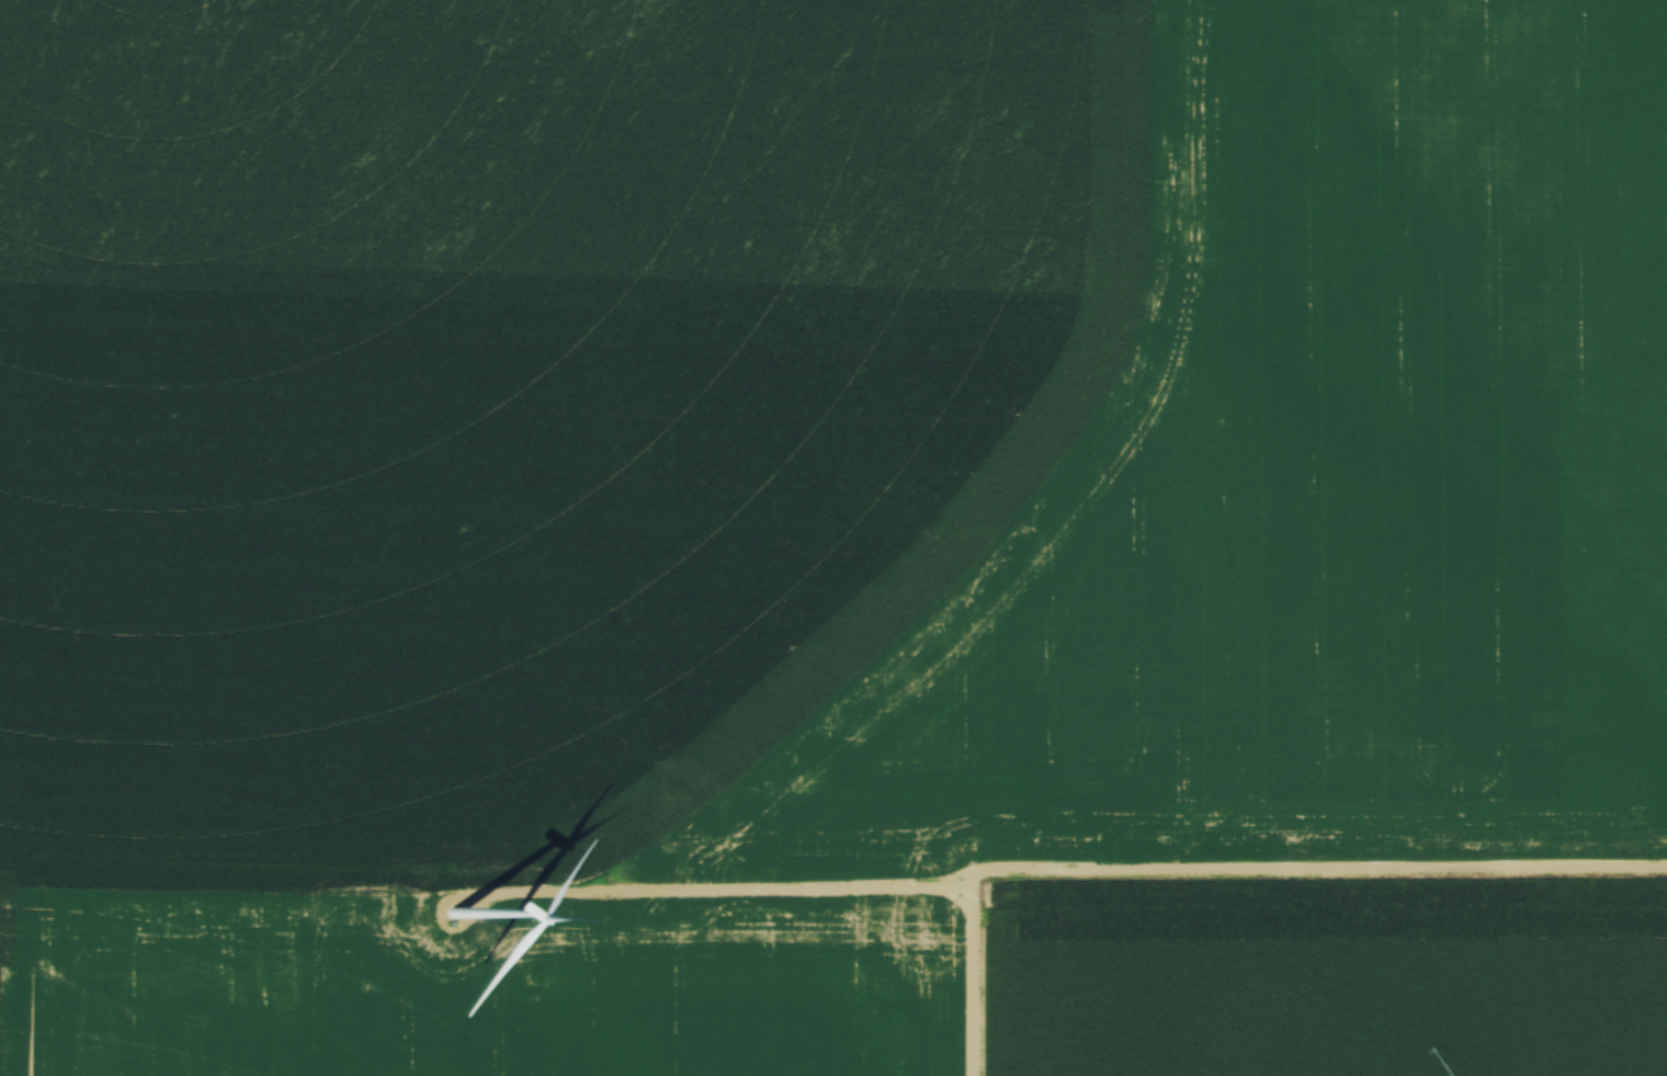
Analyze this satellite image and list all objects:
road: (1091, 888)
wind turbine: (451, 911)
road: (968, 983)

